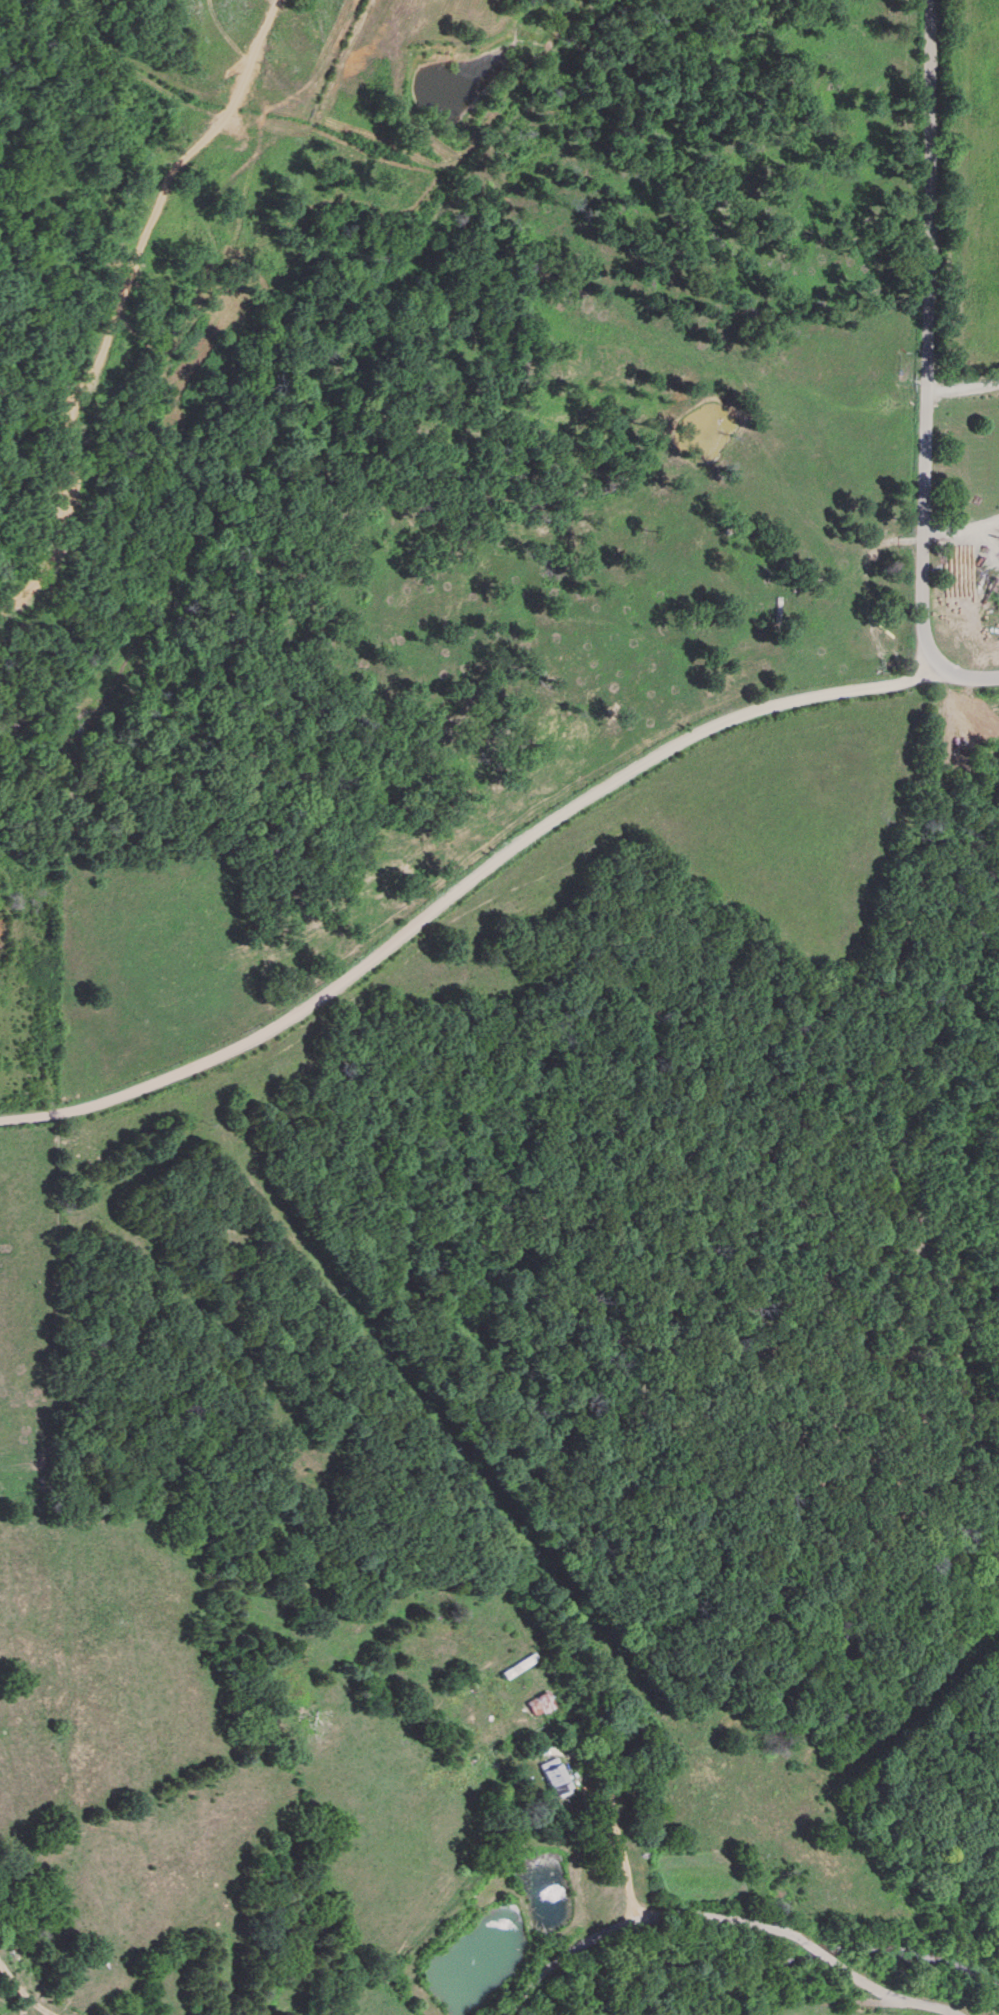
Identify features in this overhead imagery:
road: (921, 336)
road: (960, 379)
road: (960, 524)
road: (960, 680)
road: (458, 893)
building: (514, 1665)
building: (544, 1775)
road: (613, 1844)
road: (635, 1917)
road: (823, 1953)
road: (895, 1994)
road: (25, 1995)

